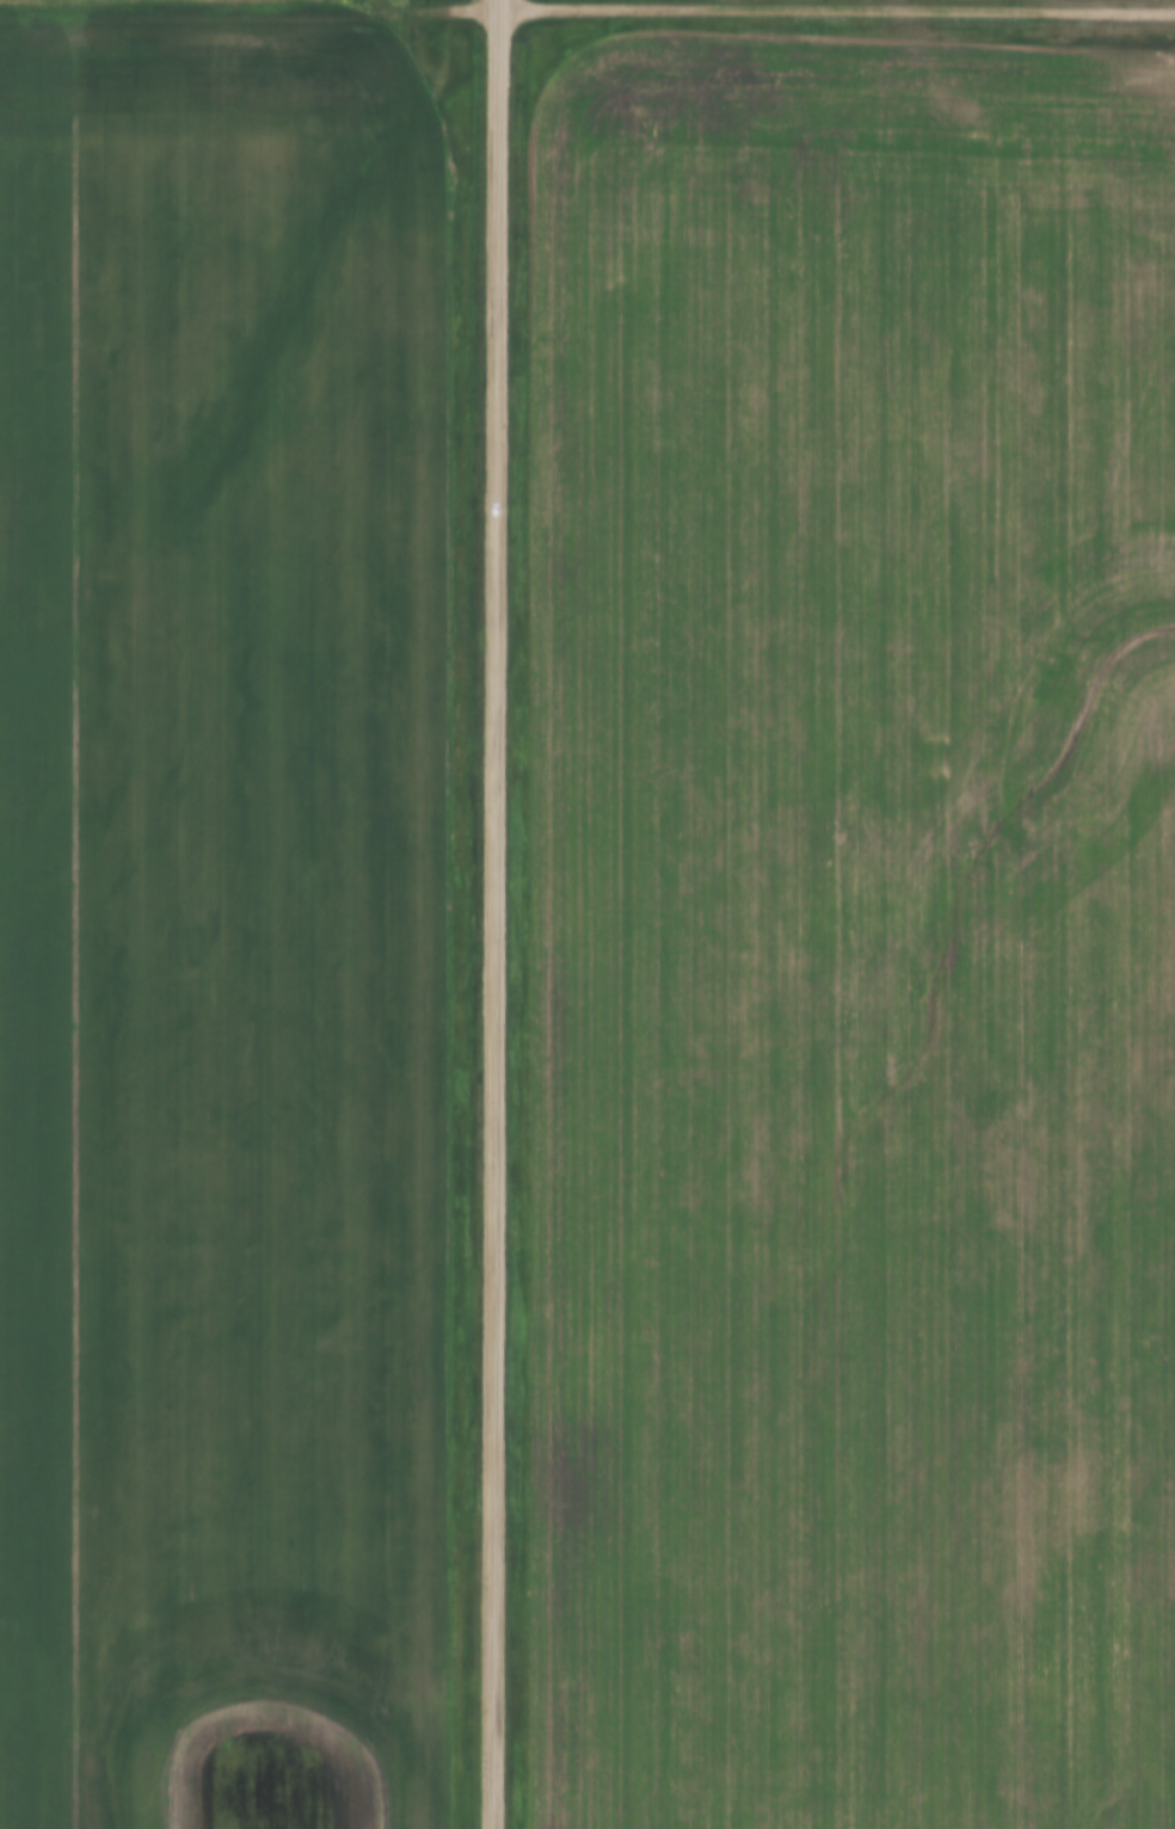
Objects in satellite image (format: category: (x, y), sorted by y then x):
road: (496, 4)
road: (835, 7)
road: (247, 14)
road: (490, 917)

